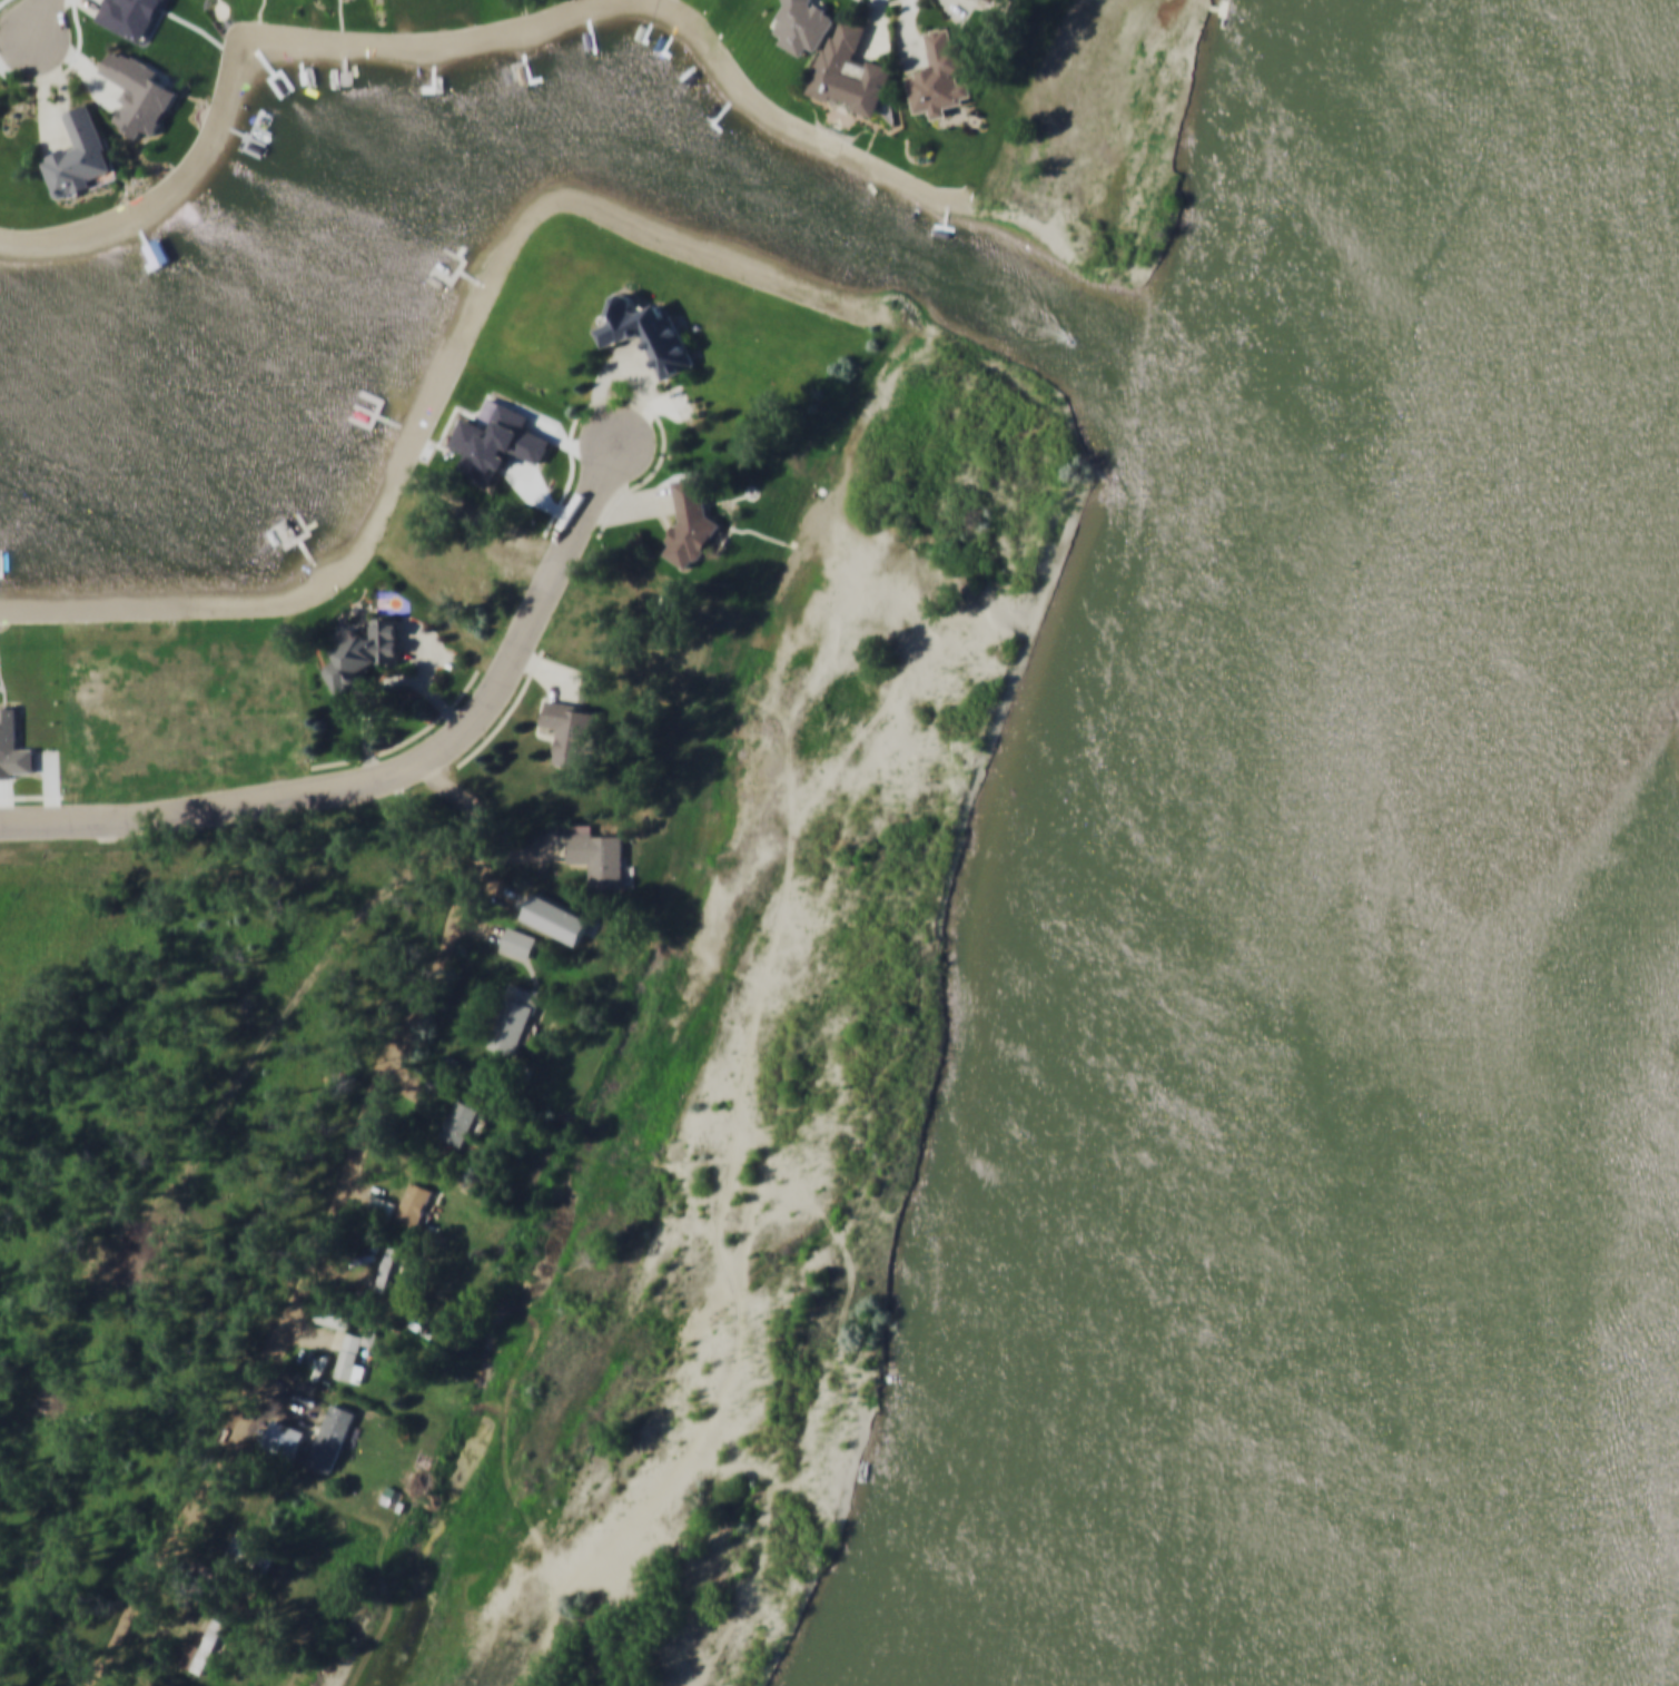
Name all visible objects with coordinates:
building: (992, 1)
building: (804, 22)
road: (40, 23)
building: (851, 69)
building: (941, 73)
building: (138, 92)
building: (81, 155)
building: (648, 332)
building: (690, 522)
building: (365, 652)
building: (573, 730)
road: (401, 778)
building: (597, 854)
building: (545, 916)
building: (518, 941)
building: (514, 1019)
building: (461, 1121)
building: (414, 1203)
building: (382, 1204)
road: (332, 1235)
building: (386, 1266)
building: (336, 1317)
building: (350, 1358)
river: (1624, 1534)
building: (251, 1551)
building: (205, 1647)

